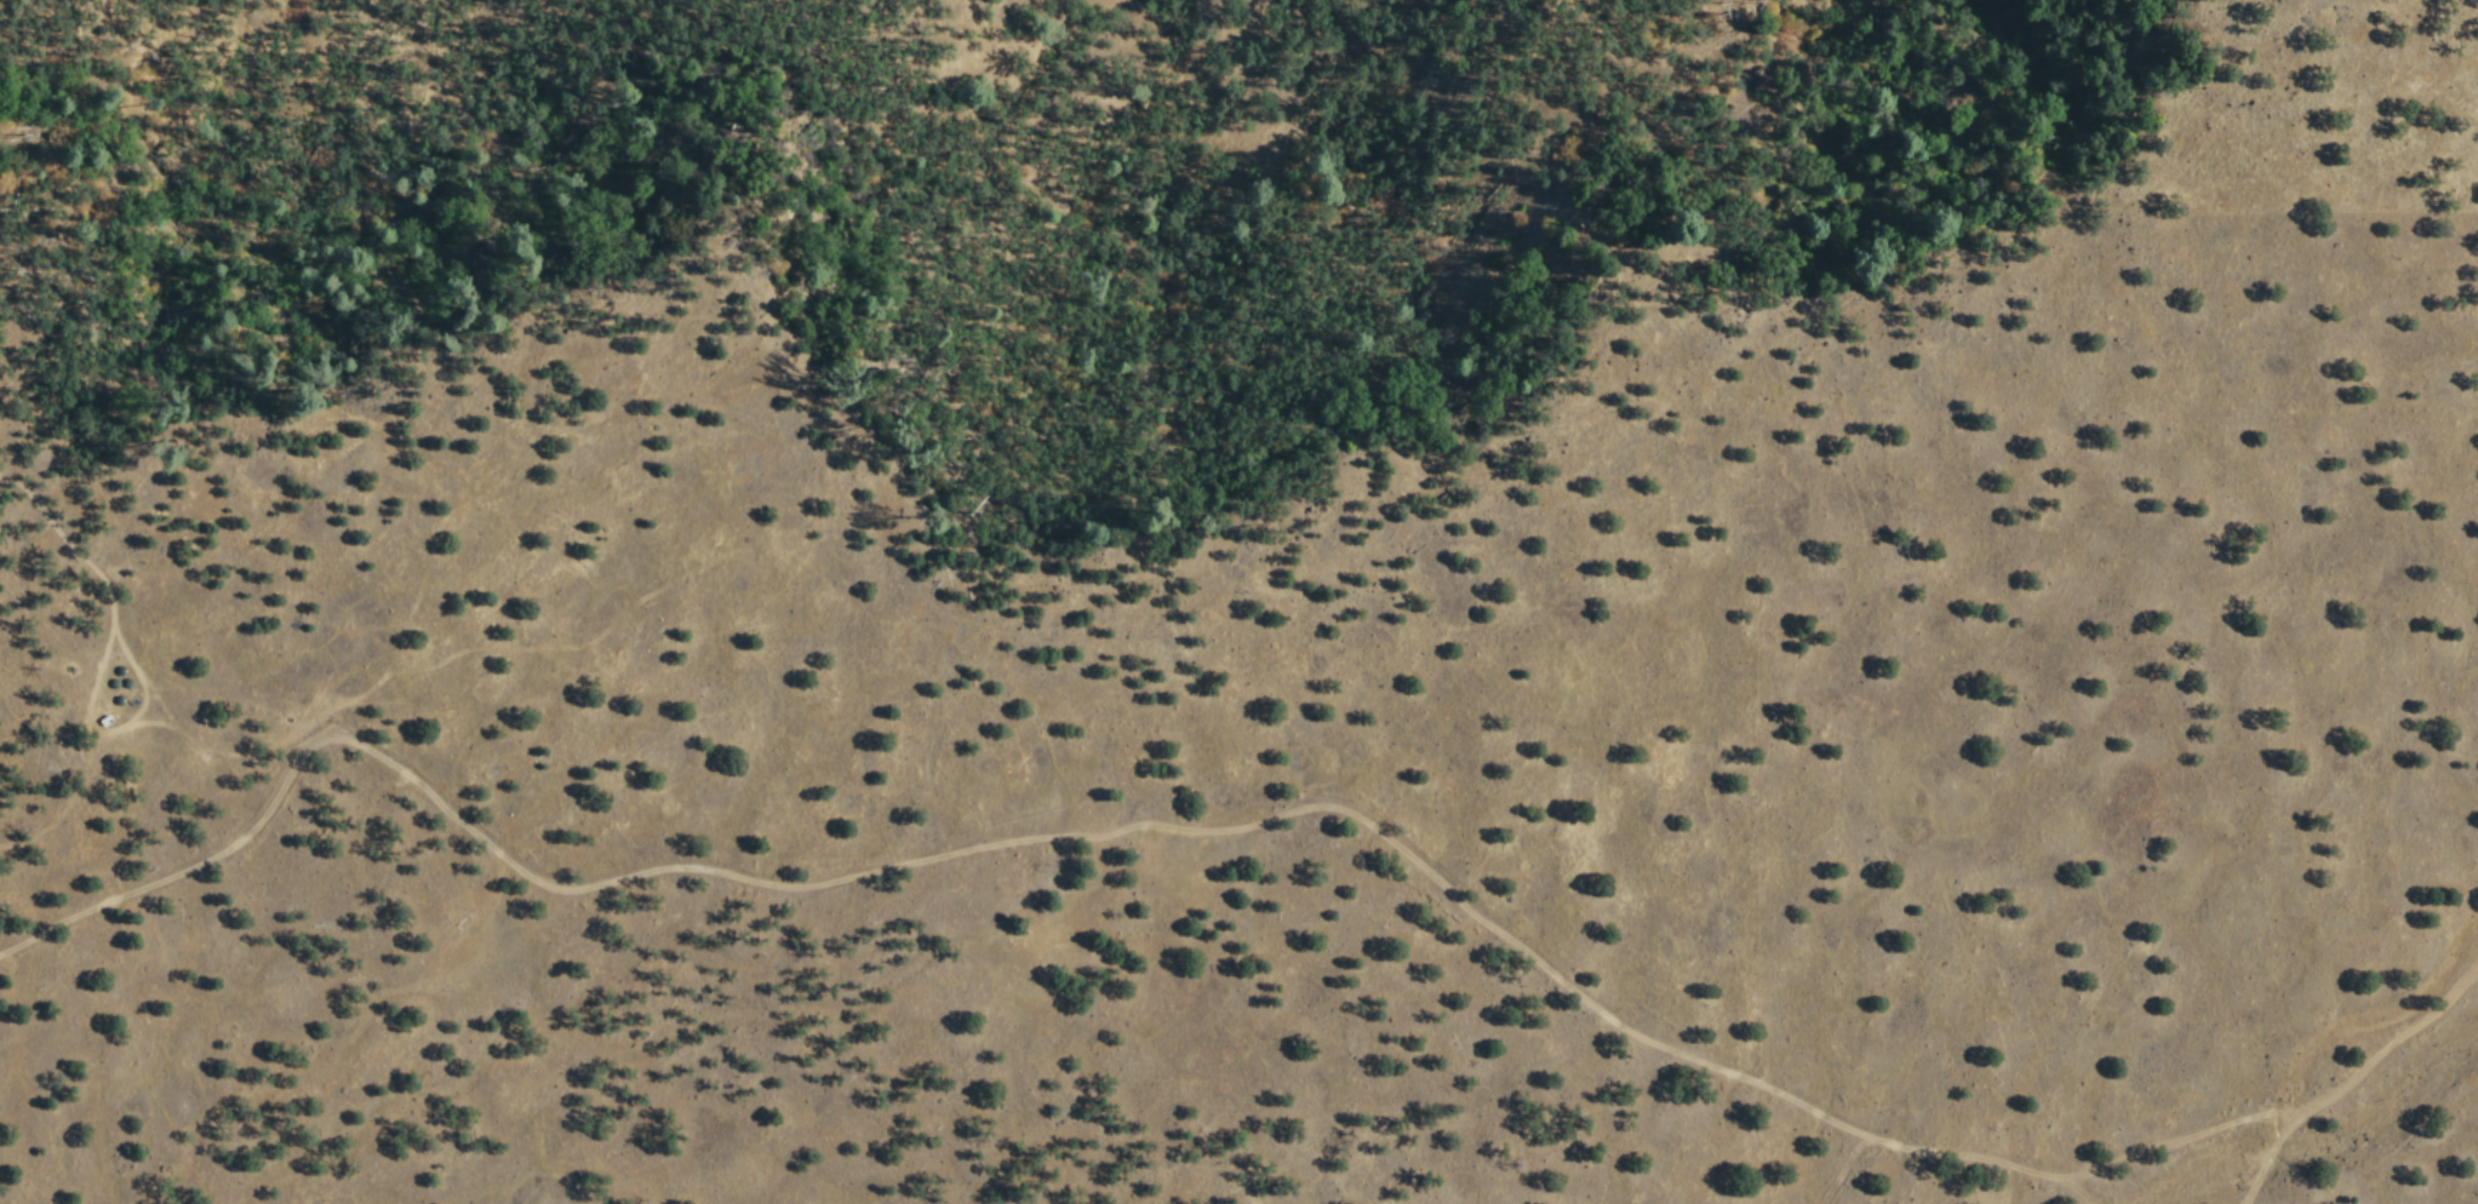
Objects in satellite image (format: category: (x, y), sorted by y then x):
road: (2352, 1080)

